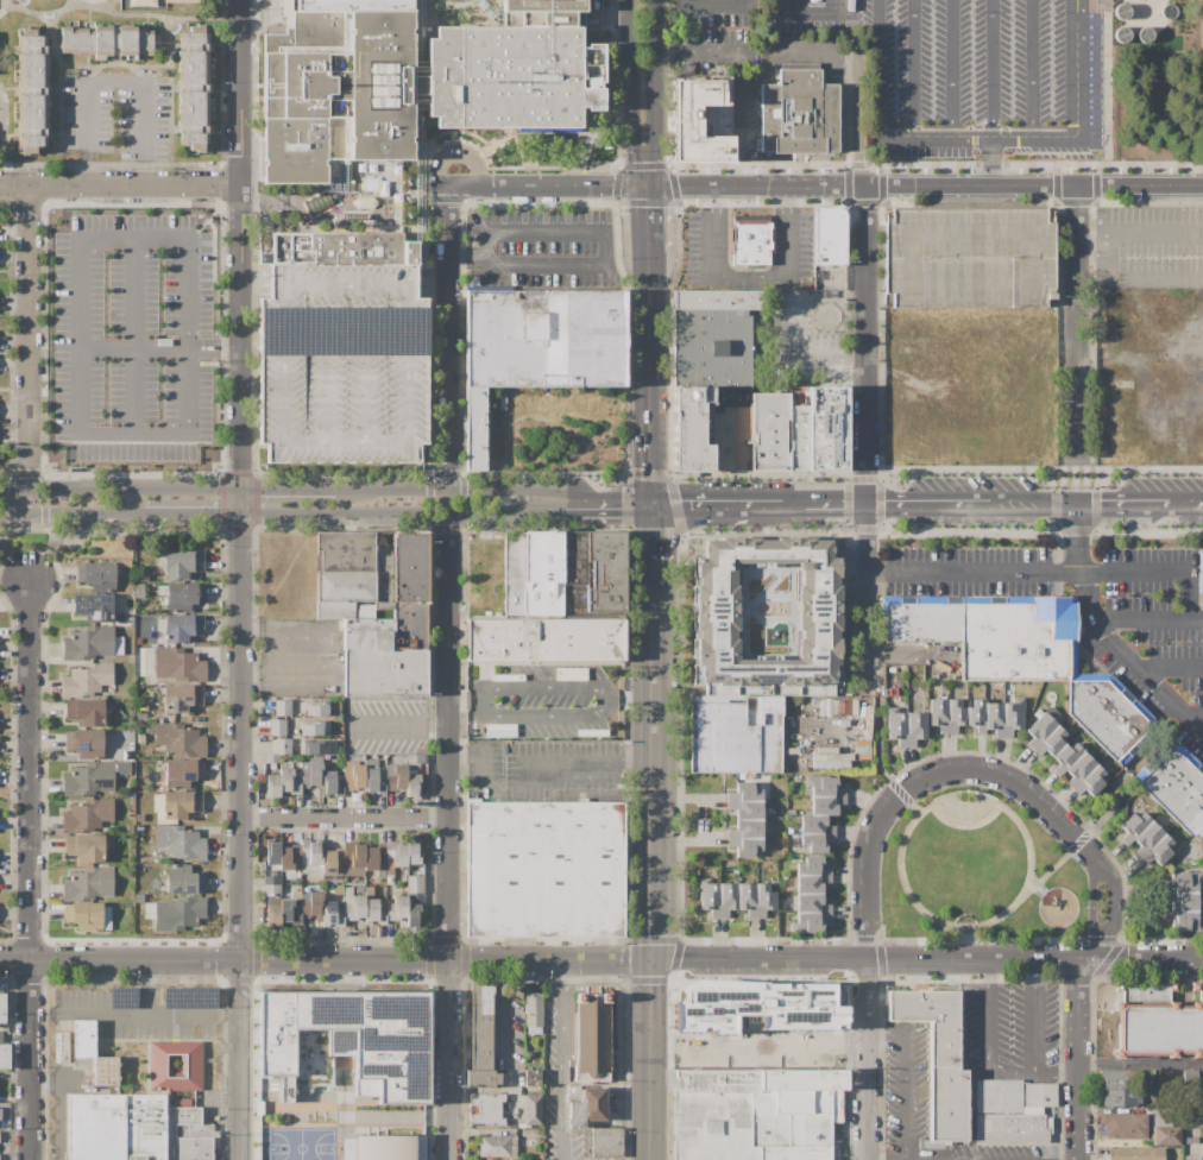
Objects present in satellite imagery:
building: (182, 1)
building: (141, 2)
building: (353, 5)
building: (556, 6)
road: (260, 12)
road: (490, 12)
building: (846, 14)
road: (813, 15)
parking lot: (811, 17)
building: (560, 18)
building: (1202, 33)
parking lot: (716, 36)
road: (420, 38)
building: (108, 39)
road: (755, 53)
road: (1078, 67)
road: (952, 68)
road: (993, 68)
road: (1032, 68)
road: (913, 69)
building: (512, 74)
parking lot: (989, 81)
road: (113, 83)
road: (61, 88)
building: (194, 88)
building: (31, 92)
building: (335, 92)
building: (420, 92)
road: (1103, 93)
road: (653, 94)
road: (630, 96)
building: (800, 113)
building: (684, 120)
road: (859, 120)
road: (735, 131)
road: (909, 138)
road: (455, 150)
road: (988, 162)
road: (428, 171)
road: (244, 172)
building: (336, 174)
road: (339, 182)
road: (420, 184)
road: (121, 185)
road: (547, 187)
road: (1034, 187)
road: (756, 188)
traffic signals: (648, 189)
road: (307, 203)
road: (409, 204)
road: (648, 220)
road: (1092, 235)
road: (1155, 235)
building: (830, 237)
building: (750, 245)
parking lot: (1148, 245)
parking lot: (541, 250)
road: (607, 256)
building: (971, 257)
parking lot: (971, 257)
road: (74, 260)
road: (1135, 275)
road: (750, 277)
building: (818, 278)
road: (432, 283)
building: (716, 300)
road: (1077, 322)
road: (132, 332)
road: (29, 336)
road: (447, 336)
parking lot: (134, 338)
building: (548, 339)
parking lot: (136, 341)
road: (649, 342)
building: (711, 348)
parking lot: (798, 348)
road: (848, 348)
building: (342, 349)
parking lot: (342, 349)
road: (794, 359)
road: (240, 416)
building: (475, 428)
building: (692, 428)
building: (826, 429)
road: (131, 431)
building: (768, 431)
building: (796, 437)
building: (739, 439)
road: (865, 439)
building: (720, 440)
road: (649, 469)
road: (446, 474)
road: (432, 477)
road: (461, 477)
road: (1077, 480)
road: (429, 487)
road: (464, 487)
road: (495, 487)
road: (120, 488)
traffic signals: (240, 488)
road: (288, 488)
road: (12, 502)
road: (46, 502)
road: (240, 502)
road: (430, 502)
road: (465, 502)
road: (1180, 502)
road: (1197, 502)
road: (951, 503)
road: (1033, 503)
traffic signals: (1077, 503)
road: (1123, 503)
road: (788, 504)
road: (834, 504)
road: (888, 504)
traffic signals: (653, 505)
road: (712, 505)
road: (599, 513)
road: (70, 515)
road: (190, 515)
traffic signals: (240, 515)
road: (392, 516)
road: (430, 516)
road: (465, 516)
road: (432, 527)
road: (461, 527)
road: (446, 529)
building: (346, 551)
road: (654, 556)
building: (577, 559)
building: (183, 563)
building: (410, 567)
building: (512, 569)
building: (607, 570)
building: (384, 572)
building: (1201, 572)
building: (543, 573)
road: (1058, 573)
building: (484, 574)
building: (96, 575)
building: (141, 578)
building: (345, 586)
building: (162, 590)
building: (139, 591)
road: (240, 593)
building: (183, 595)
building: (94, 606)
parking lot: (1097, 606)
building: (335, 610)
building: (819, 611)
road: (1144, 622)
building: (182, 628)
building: (389, 630)
building: (993, 632)
road: (1104, 635)
building: (138, 641)
building: (544, 642)
building: (88, 643)
building: (160, 643)
building: (118, 645)
building: (143, 661)
road: (1167, 663)
building: (178, 664)
building: (385, 673)
building: (86, 680)
road: (544, 688)
building: (182, 698)
road: (466, 701)
road: (630, 701)
building: (282, 707)
building: (334, 707)
building: (827, 707)
building: (848, 707)
building: (315, 708)
building: (821, 708)
building: (834, 708)
building: (840, 708)
road: (1191, 708)
building: (84, 712)
building: (939, 713)
building: (1038, 713)
building: (955, 714)
building: (977, 714)
building: (1109, 714)
road: (543, 715)
building: (1013, 715)
building: (995, 718)
building: (1069, 720)
road: (401, 724)
building: (896, 725)
building: (277, 727)
building: (314, 727)
building: (914, 727)
building: (1040, 729)
building: (288, 731)
building: (735, 732)
building: (140, 738)
building: (179, 739)
building: (1051, 742)
building: (84, 743)
building: (862, 743)
building: (282, 745)
building: (296, 745)
building: (316, 746)
building: (332, 748)
building: (862, 749)
road: (881, 754)
road: (480, 756)
building: (862, 756)
building: (366, 757)
road: (580, 757)
building: (1066, 757)
building: (271, 758)
building: (325, 758)
building: (415, 758)
building: (399, 761)
building: (1104, 762)
building: (831, 764)
building: (297, 765)
building: (121, 768)
building: (1079, 769)
building: (311, 771)
building: (183, 773)
building: (352, 775)
building: (373, 777)
building: (396, 777)
road: (924, 777)
building: (89, 778)
building: (289, 780)
building: (330, 781)
building: (1090, 781)
road: (655, 784)
building: (272, 786)
building: (412, 786)
building: (824, 786)
building: (1176, 787)
building: (745, 793)
building: (131, 795)
road: (1111, 800)
building: (181, 803)
building: (826, 805)
building: (747, 808)
building: (792, 812)
building: (88, 817)
road: (701, 817)
building: (139, 818)
road: (346, 818)
building: (814, 825)
building: (1134, 826)
building: (138, 827)
building: (791, 827)
building: (747, 828)
road: (451, 837)
road: (907, 839)
building: (1147, 839)
building: (179, 841)
building: (817, 841)
building: (745, 846)
building: (84, 847)
building: (1159, 851)
building: (272, 852)
building: (414, 852)
building: (310, 856)
building: (395, 856)
building: (353, 858)
building: (376, 859)
building: (290, 860)
building: (333, 860)
building: (812, 866)
building: (544, 869)
building: (735, 870)
road: (31, 871)
building: (695, 871)
building: (275, 872)
park: (981, 872)
building: (333, 877)
building: (183, 880)
building: (271, 880)
building: (811, 883)
building: (88, 884)
building: (415, 884)
building: (1182, 884)
building: (271, 889)
road: (1038, 889)
building: (369, 893)
building: (708, 896)
building: (138, 897)
building: (728, 897)
building: (748, 897)
building: (764, 899)
building: (1184, 902)
building: (812, 903)
building: (353, 904)
building: (311, 906)
building: (396, 908)
road: (1094, 908)
road: (1113, 908)
building: (149, 910)
building: (374, 910)
building: (414, 910)
building: (290, 912)
building: (178, 913)
building: (333, 913)
building: (84, 915)
road: (243, 915)
building: (273, 915)
building: (106, 919)
building: (808, 921)
building: (1183, 921)
road: (966, 945)
road: (327, 962)
road: (928, 962)
building: (550, 994)
building: (2, 1008)
building: (533, 1009)
road: (99, 1013)
road: (155, 1013)
road: (1031, 1015)
building: (802, 1022)
building: (1158, 1022)
building: (534, 1029)
road: (830, 1036)
road: (984, 1036)
building: (481, 1038)
building: (591, 1038)
building: (83, 1039)
building: (347, 1041)
building: (945, 1045)
building: (58, 1047)
building: (65, 1047)
building: (5, 1057)
road: (1077, 1057)
road: (651, 1059)
road: (565, 1060)
road: (865, 1060)
road: (1140, 1064)
building: (175, 1066)
road: (1053, 1070)
building: (106, 1071)
road: (903, 1076)
building: (533, 1078)
building: (1117, 1078)
building: (1190, 1078)
building: (1150, 1082)
building: (1122, 1097)
building: (594, 1103)
building: (756, 1105)
building: (533, 1109)
building: (486, 1110)
building: (0, 1114)
building: (575, 1114)
building: (1123, 1126)
building: (136, 1129)
building: (1189, 1133)
building: (1166, 1136)
building: (1190, 1140)
building: (607, 1142)
building: (498, 1146)
building: (383, 1147)
building: (1136, 1154)
building: (1192, 1158)
building: (515, 1159)

